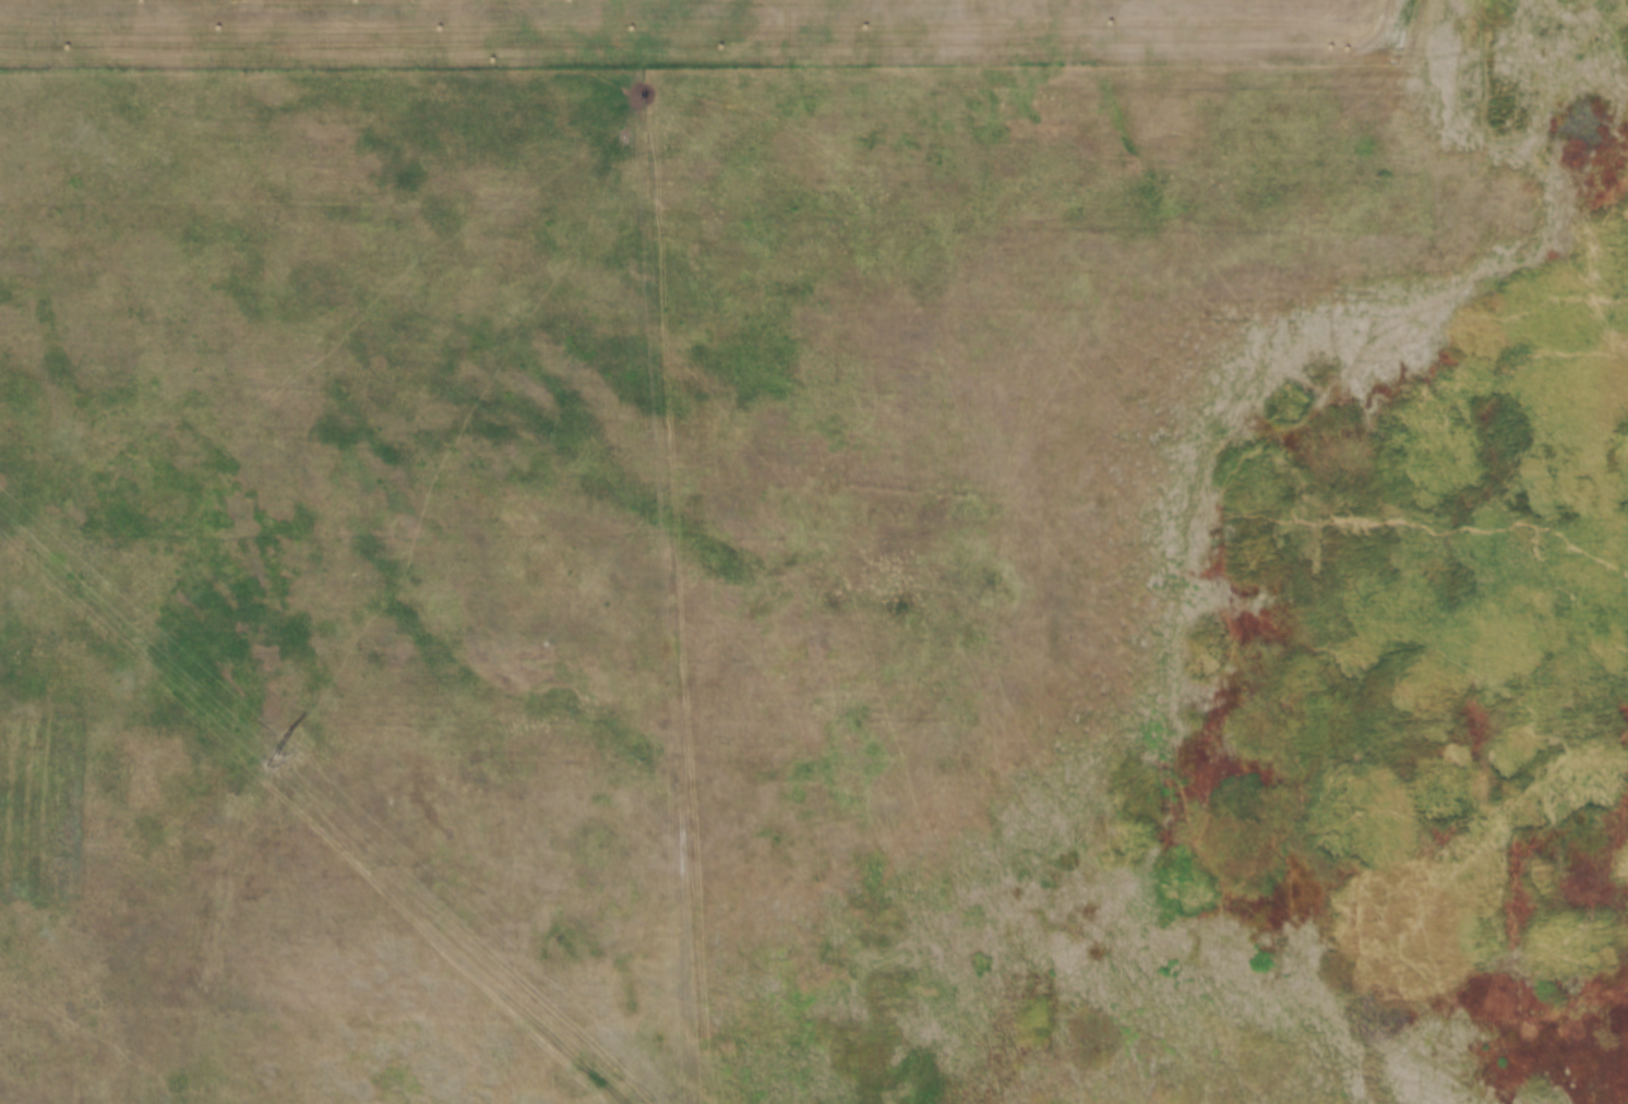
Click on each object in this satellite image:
power tower: (271, 758)

